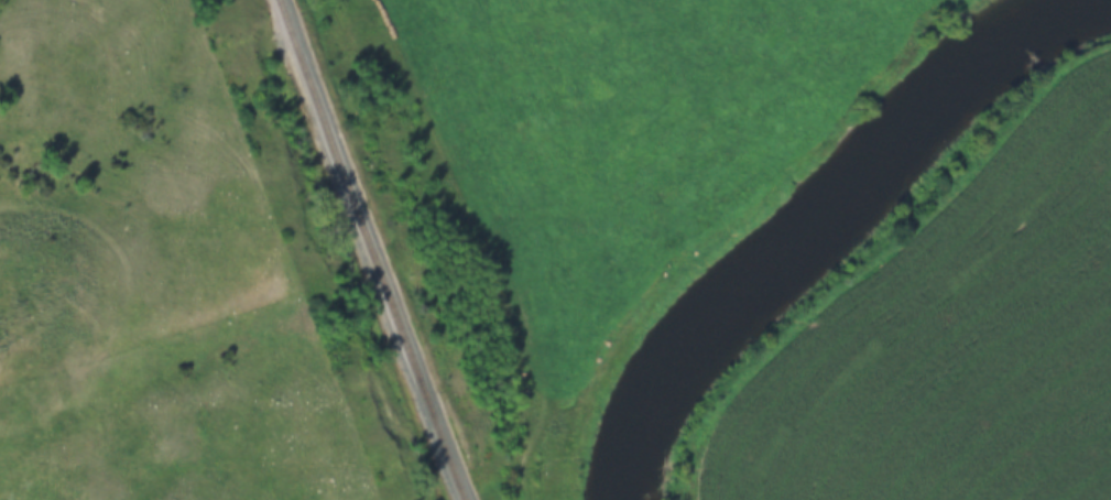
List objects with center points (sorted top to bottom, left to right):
river: (798, 226)
railway: (361, 250)

